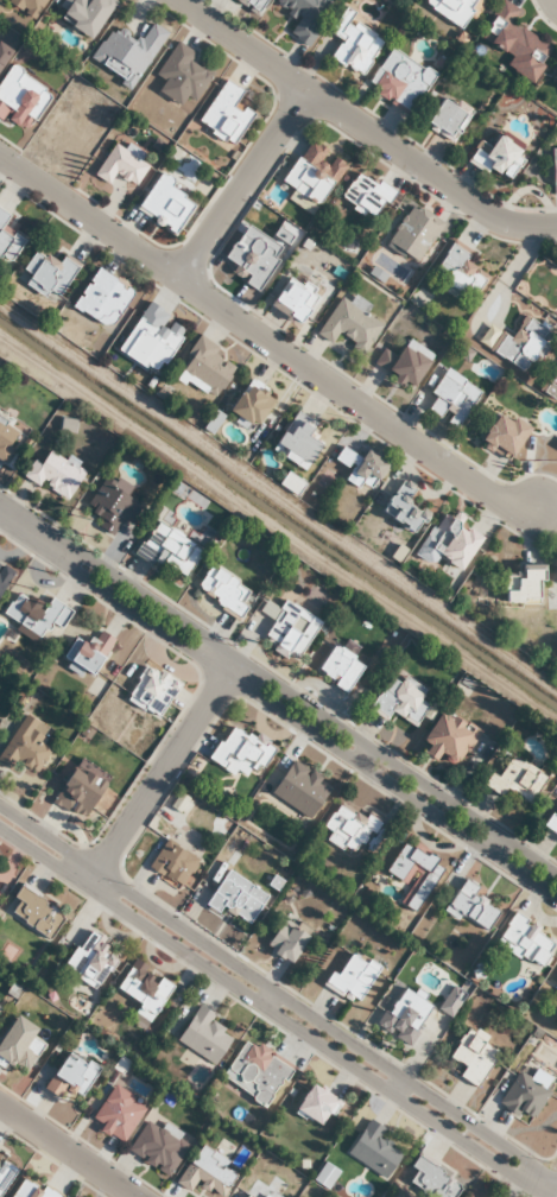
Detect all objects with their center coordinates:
building: (251, 4)
building: (0, 6)
building: (26, 6)
building: (454, 9)
building: (83, 14)
building: (305, 17)
building: (515, 43)
building: (352, 44)
building: (2, 55)
building: (127, 55)
building: (181, 76)
building: (399, 82)
building: (20, 100)
building: (224, 114)
building: (447, 119)
road: (357, 129)
building: (495, 157)
building: (121, 166)
building: (553, 172)
building: (312, 173)
road: (242, 186)
building: (365, 195)
building: (165, 205)
building: (413, 234)
building: (7, 243)
building: (457, 271)
building: (46, 274)
building: (101, 299)
building: (291, 303)
building: (349, 323)
building: (150, 338)
road: (265, 338)
building: (521, 344)
building: (401, 366)
building: (204, 369)
building: (450, 399)
building: (251, 405)
building: (502, 436)
building: (6, 441)
building: (296, 443)
building: (361, 468)
building: (53, 475)
building: (109, 507)
building: (403, 508)
building: (448, 543)
building: (167, 551)
building: (4, 577)
building: (523, 587)
building: (223, 591)
building: (34, 614)
building: (291, 631)
building: (88, 655)
building: (338, 670)
building: (151, 691)
road: (278, 698)
building: (398, 702)
building: (447, 740)
building: (24, 747)
building: (240, 754)
road: (162, 772)
building: (514, 780)
building: (300, 790)
building: (77, 793)
building: (552, 823)
building: (349, 829)
building: (172, 864)
building: (413, 875)
building: (235, 899)
building: (471, 907)
building: (33, 914)
building: (287, 940)
building: (525, 944)
building: (90, 961)
building: (352, 978)
building: (555, 983)
building: (144, 990)
road: (278, 1003)
building: (403, 1018)
building: (203, 1037)
building: (18, 1045)
building: (473, 1057)
building: (254, 1073)
building: (70, 1078)
building: (525, 1096)
building: (315, 1107)
building: (116, 1115)
building: (157, 1149)
building: (373, 1151)
road: (63, 1153)
building: (207, 1174)
building: (5, 1177)
building: (324, 1177)
building: (30, 1191)

